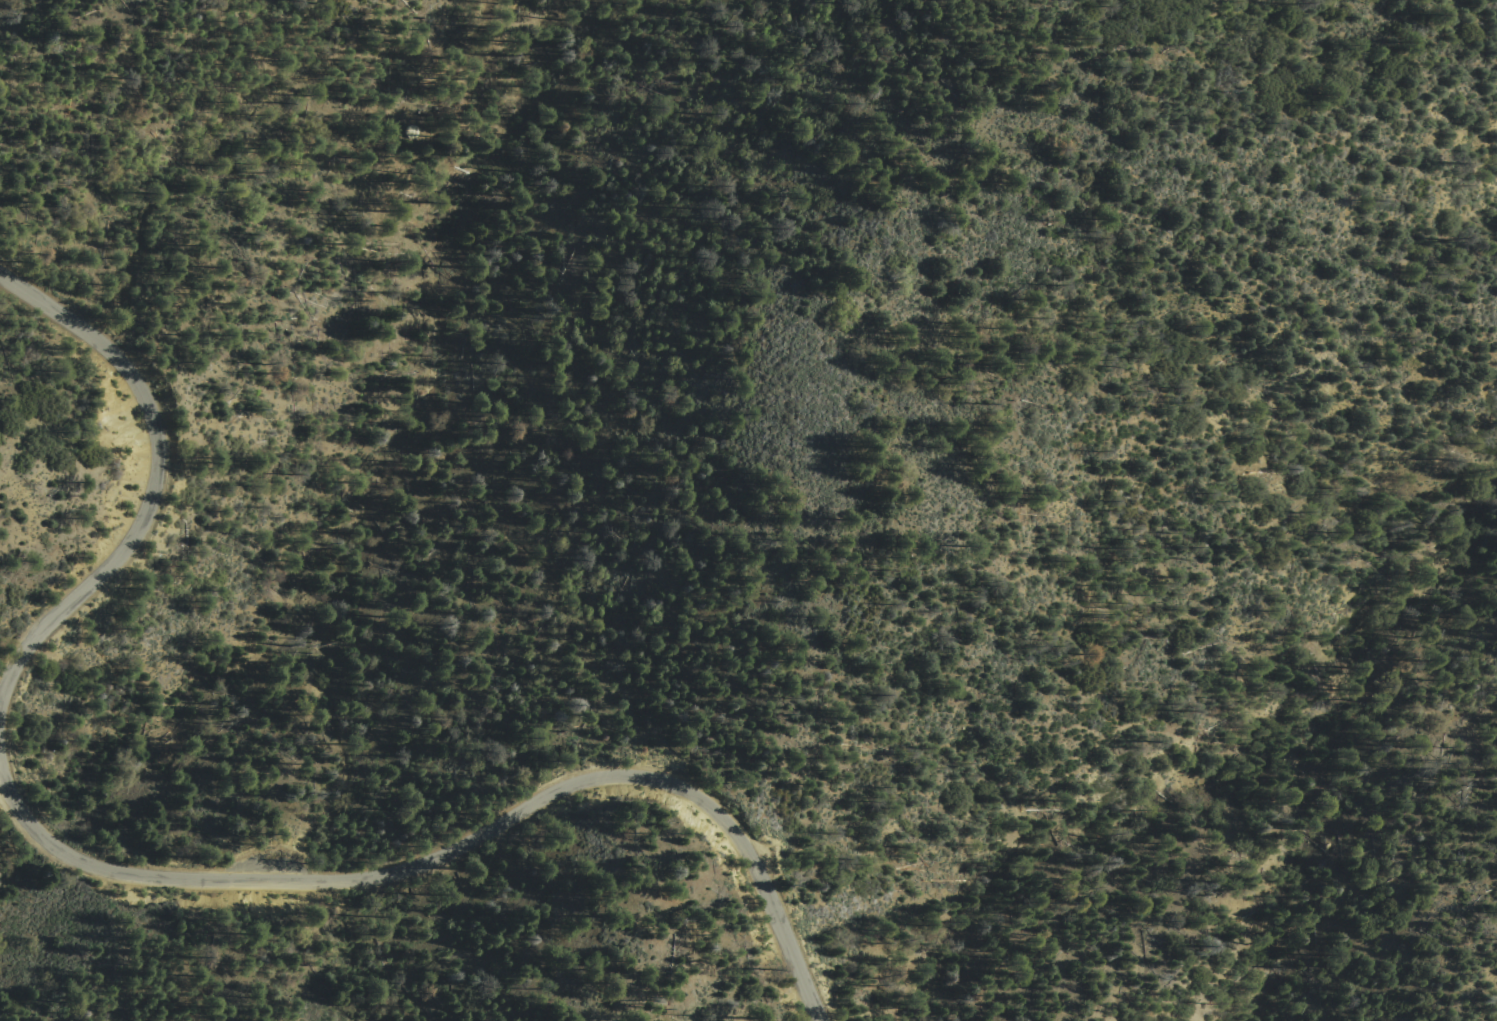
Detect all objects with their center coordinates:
road: (157, 878)

